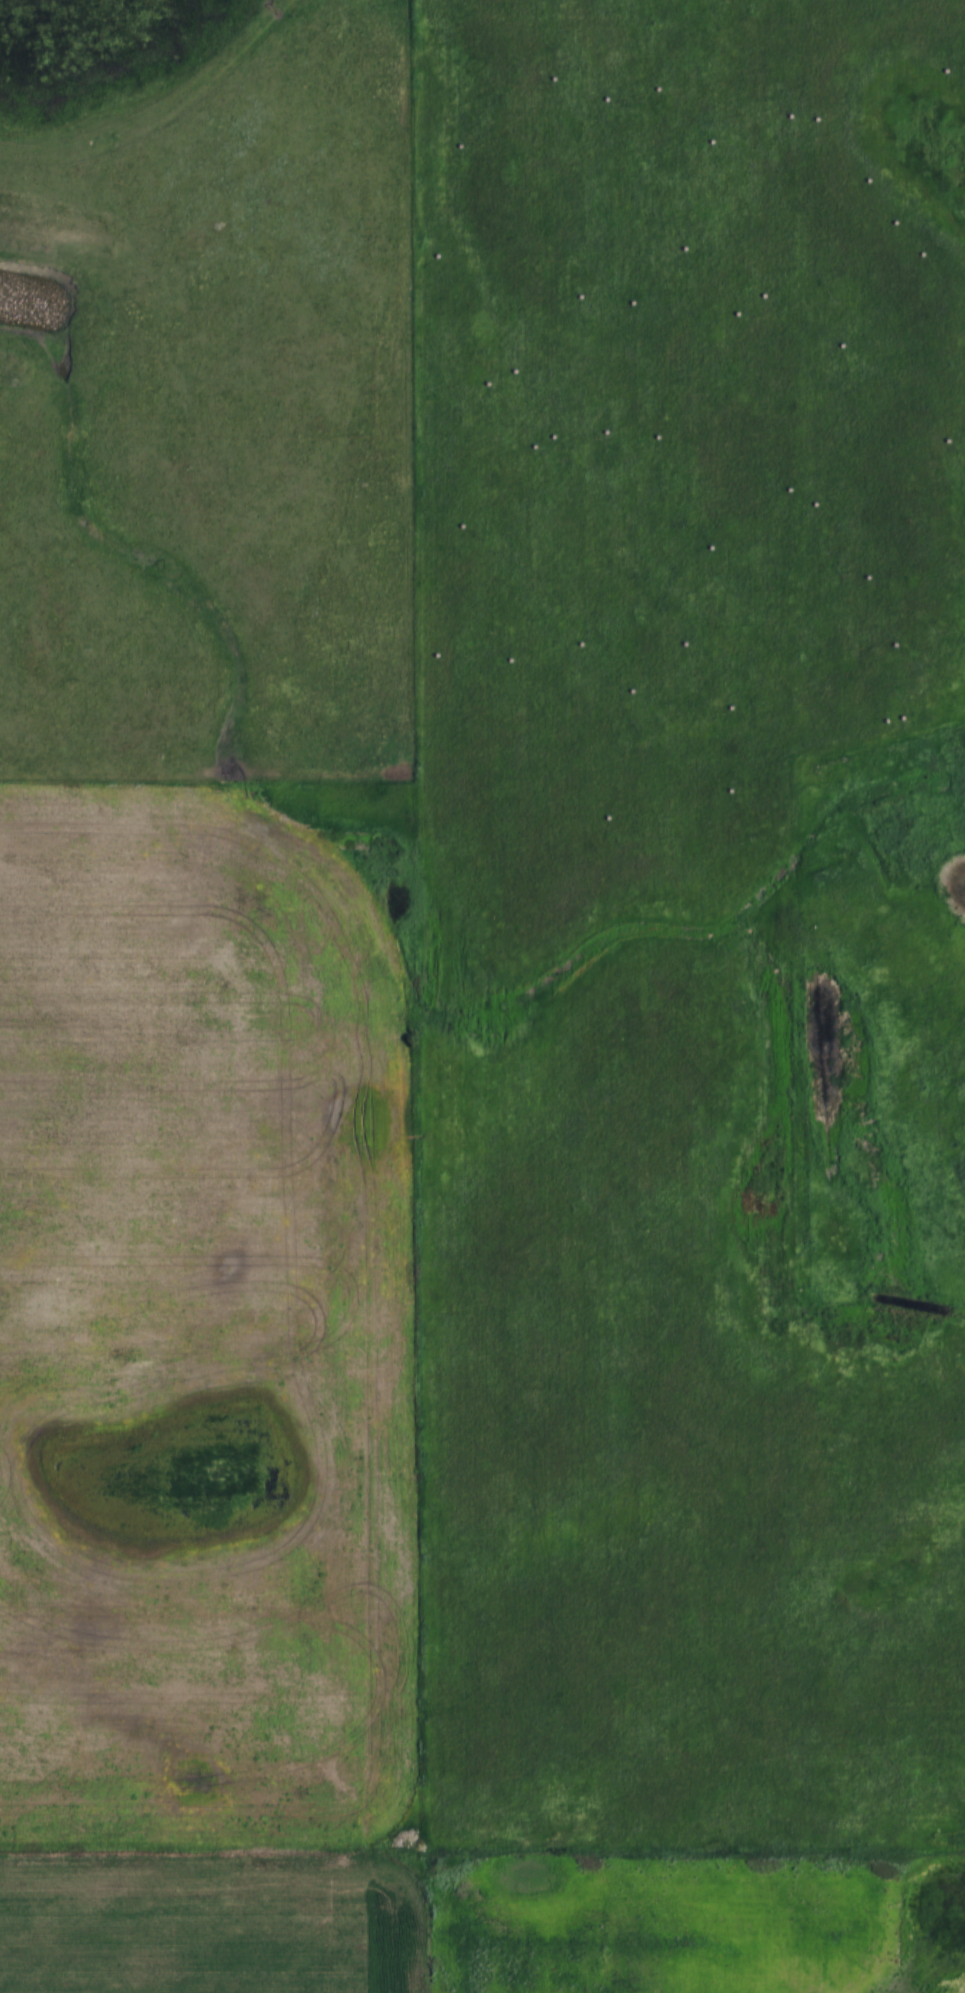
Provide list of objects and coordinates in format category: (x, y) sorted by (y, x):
road: (187, 131)
building: (682, 297)
building: (935, 340)
building: (633, 813)

